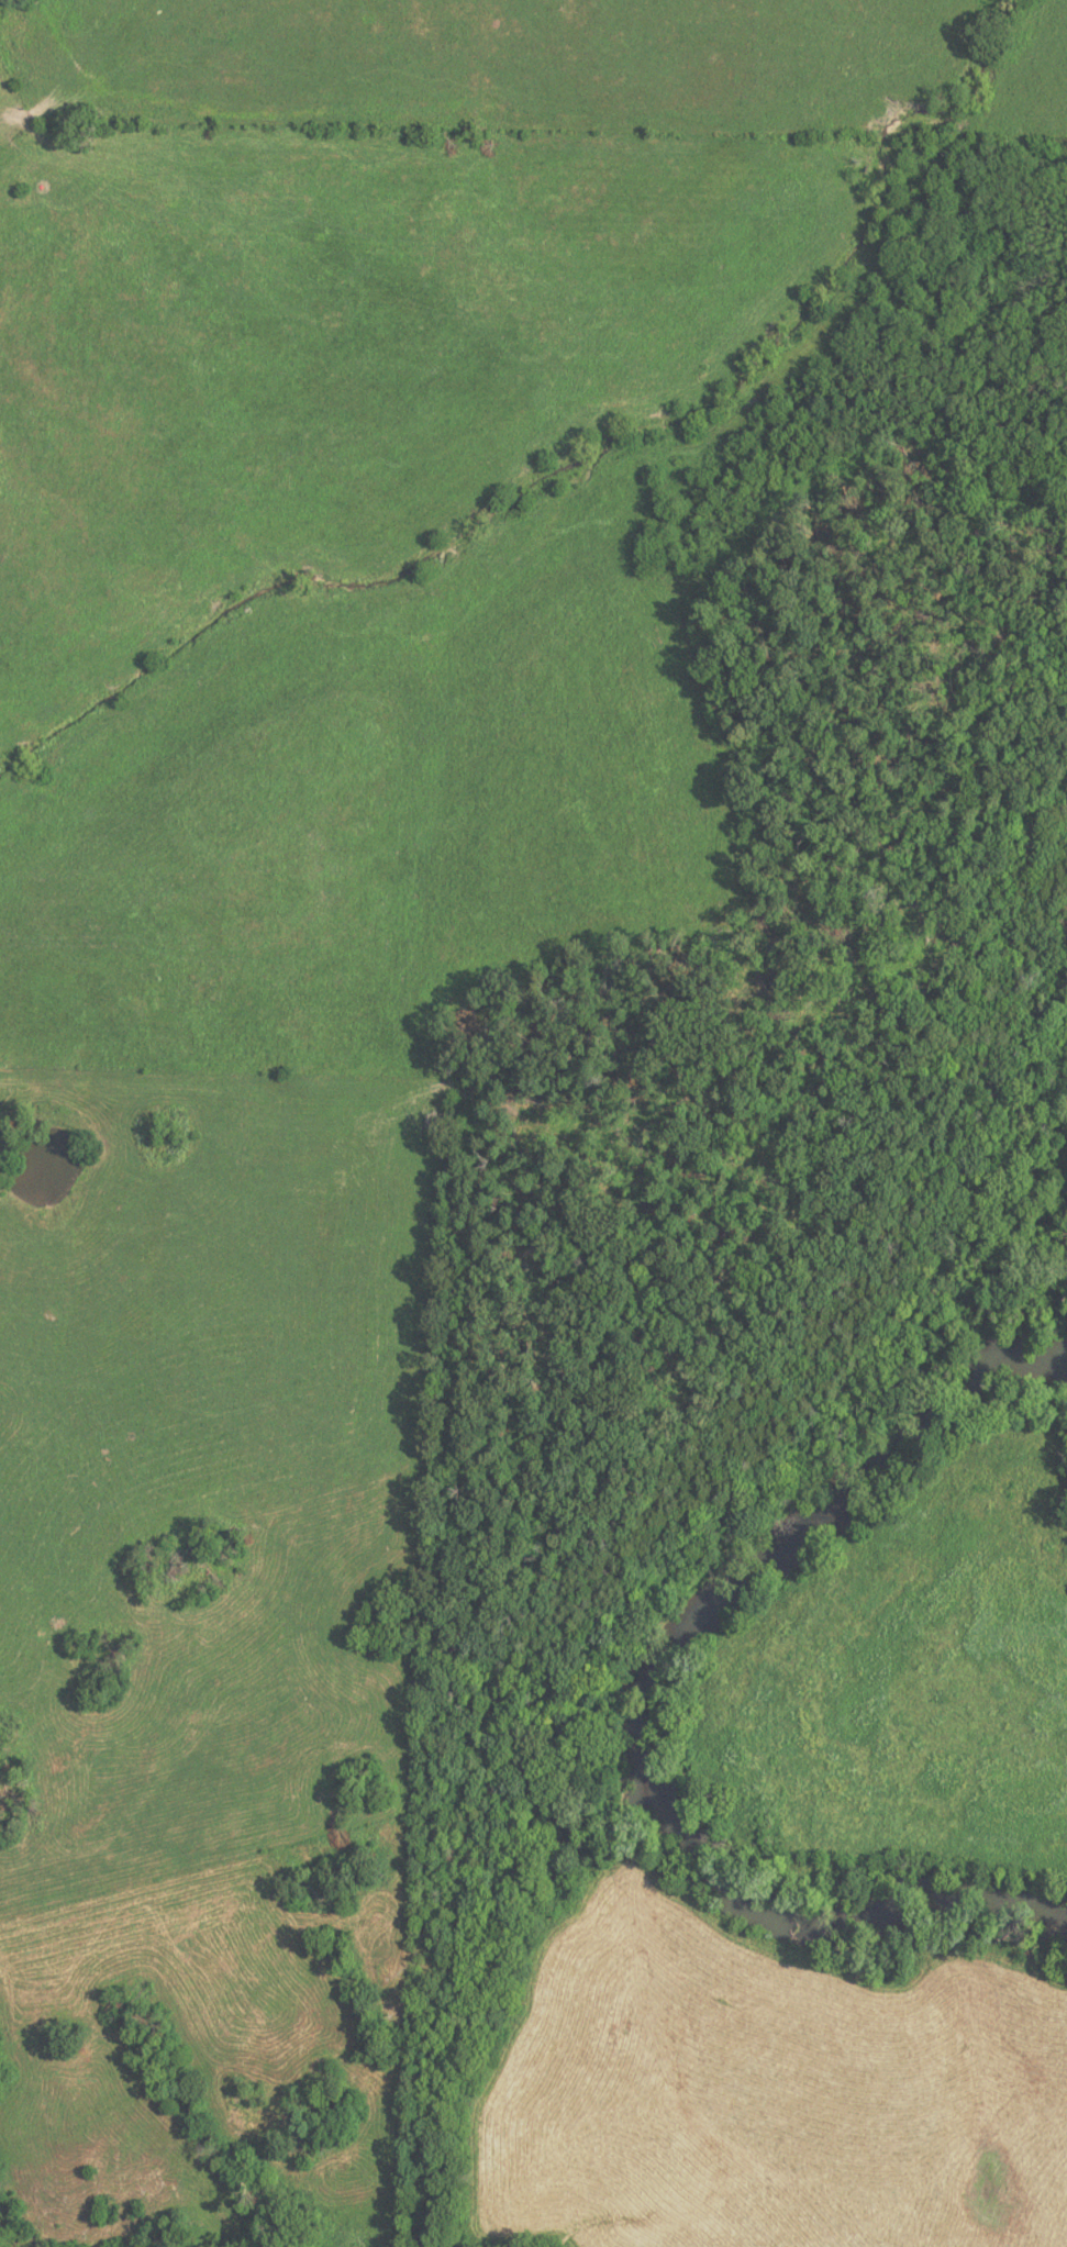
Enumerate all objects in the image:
river: (635, 1698)

